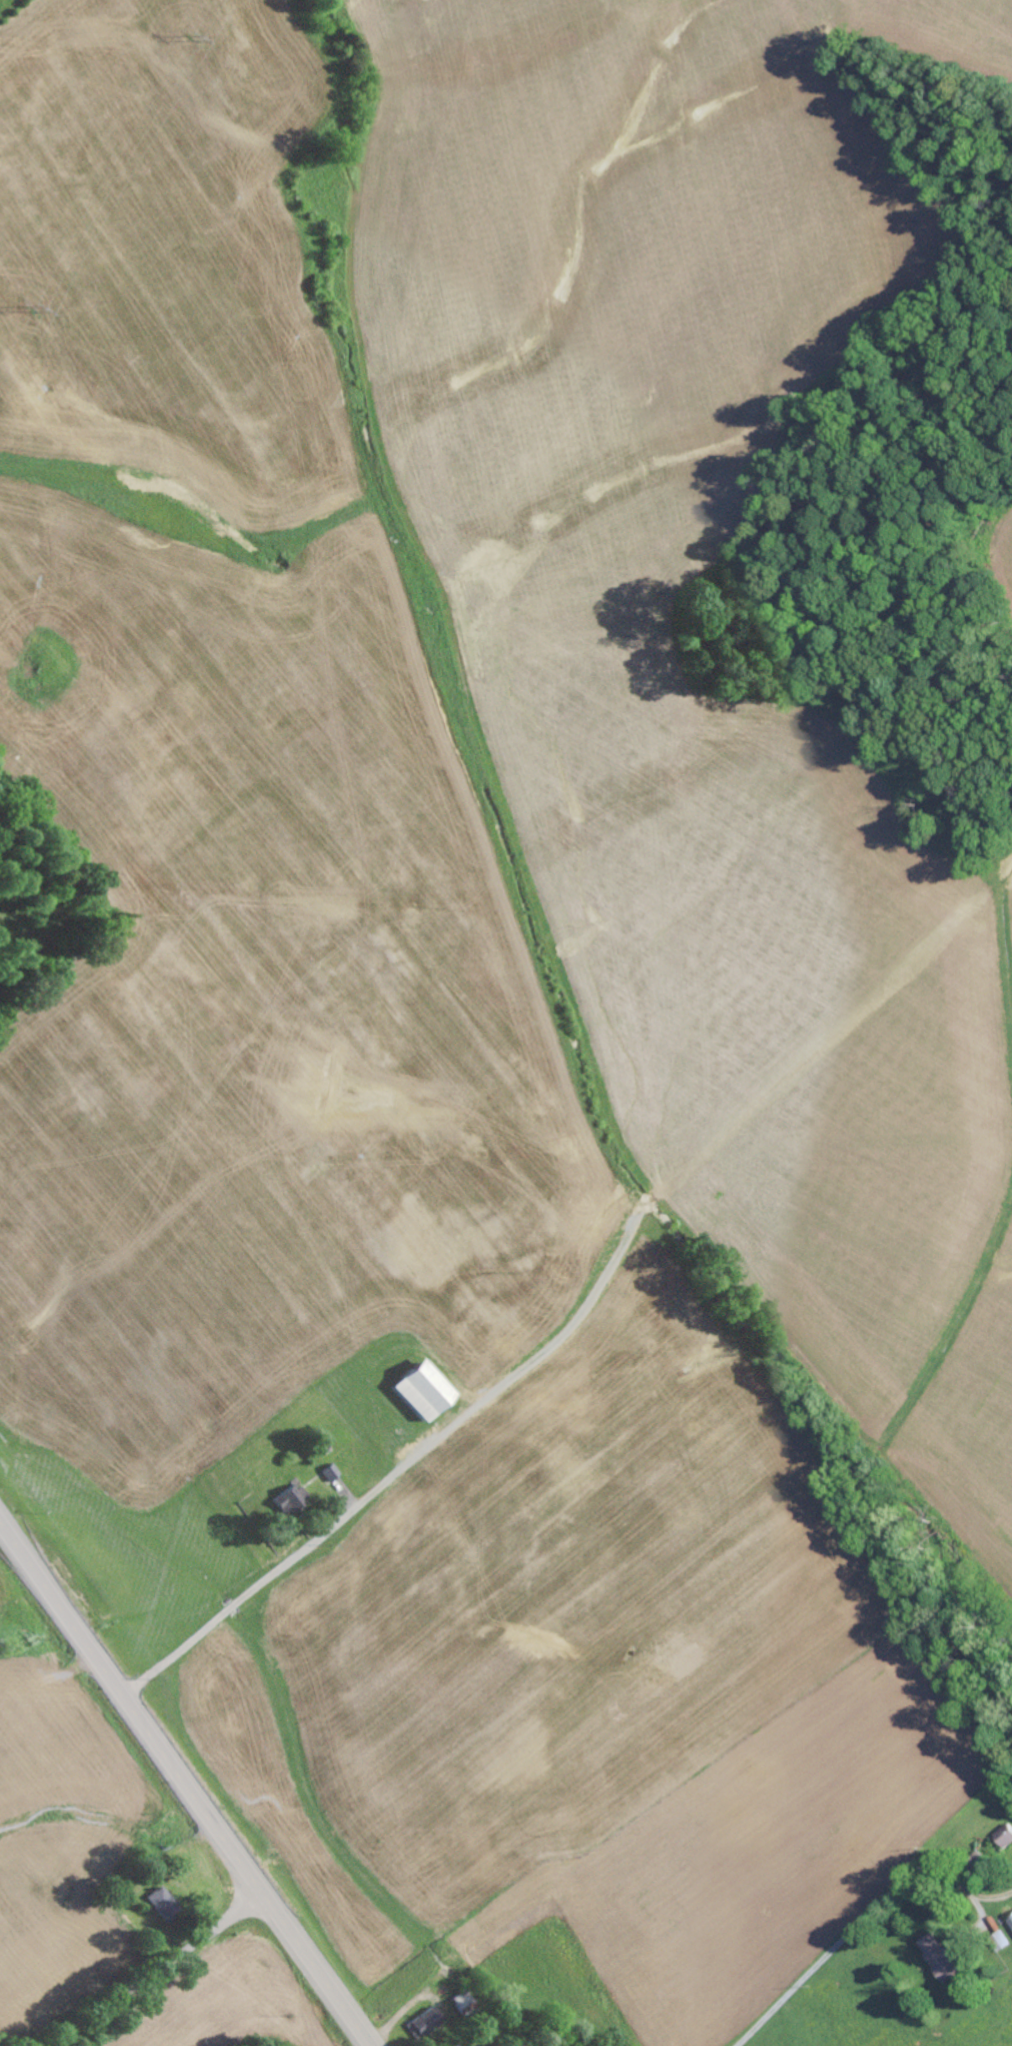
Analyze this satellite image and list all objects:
power tower: (34, 307)
building: (413, 1389)
building: (328, 1470)
building: (287, 1496)
road: (184, 1784)
building: (1003, 1837)
building: (160, 1904)
building: (1010, 1920)
building: (1000, 1940)
building: (938, 1957)
road: (159, 1971)
building: (425, 2019)

